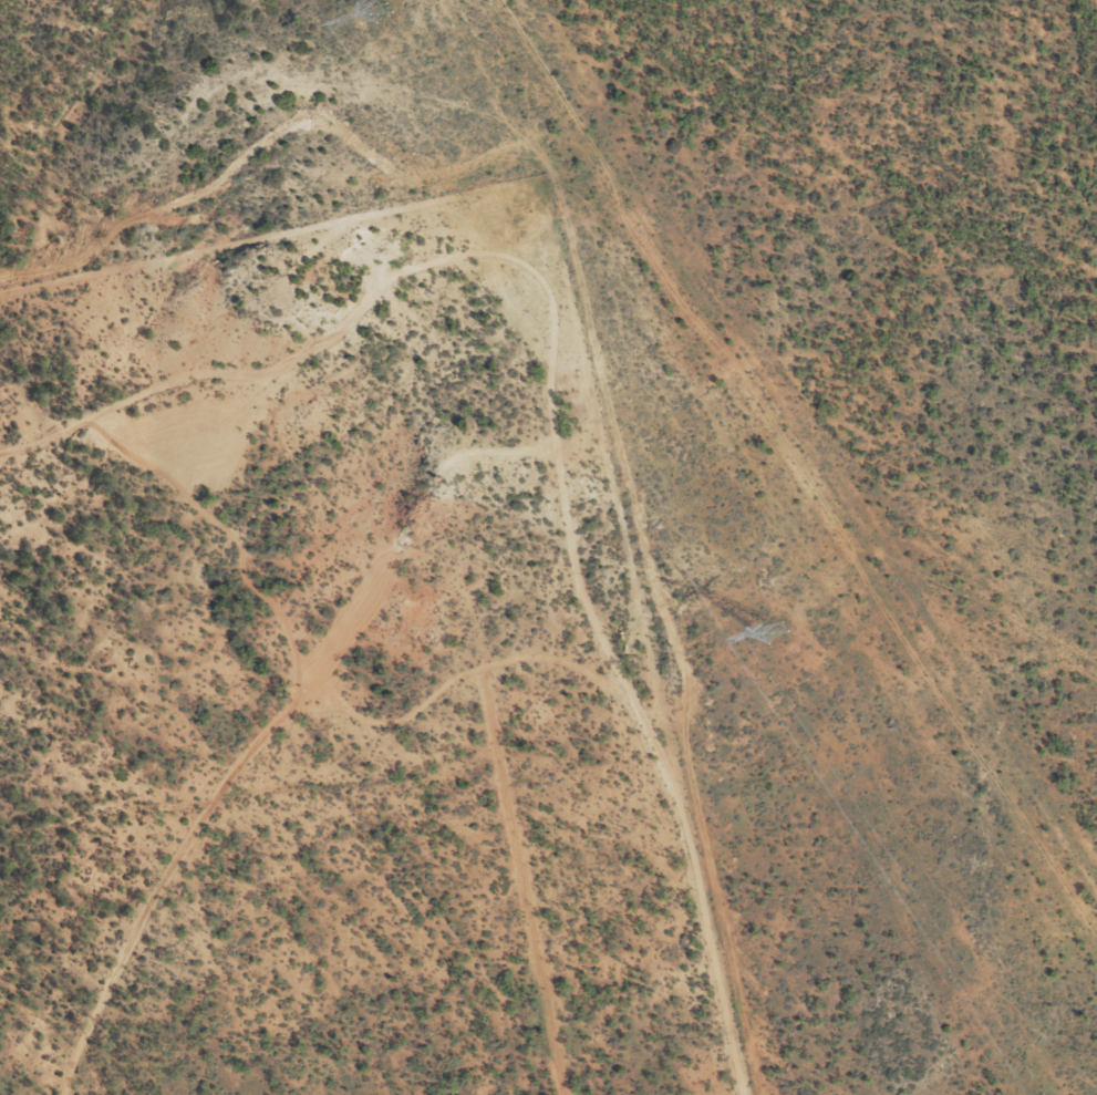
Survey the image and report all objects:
power tower: (377, 11)
road: (758, 364)
road: (570, 384)
power tower: (774, 632)

